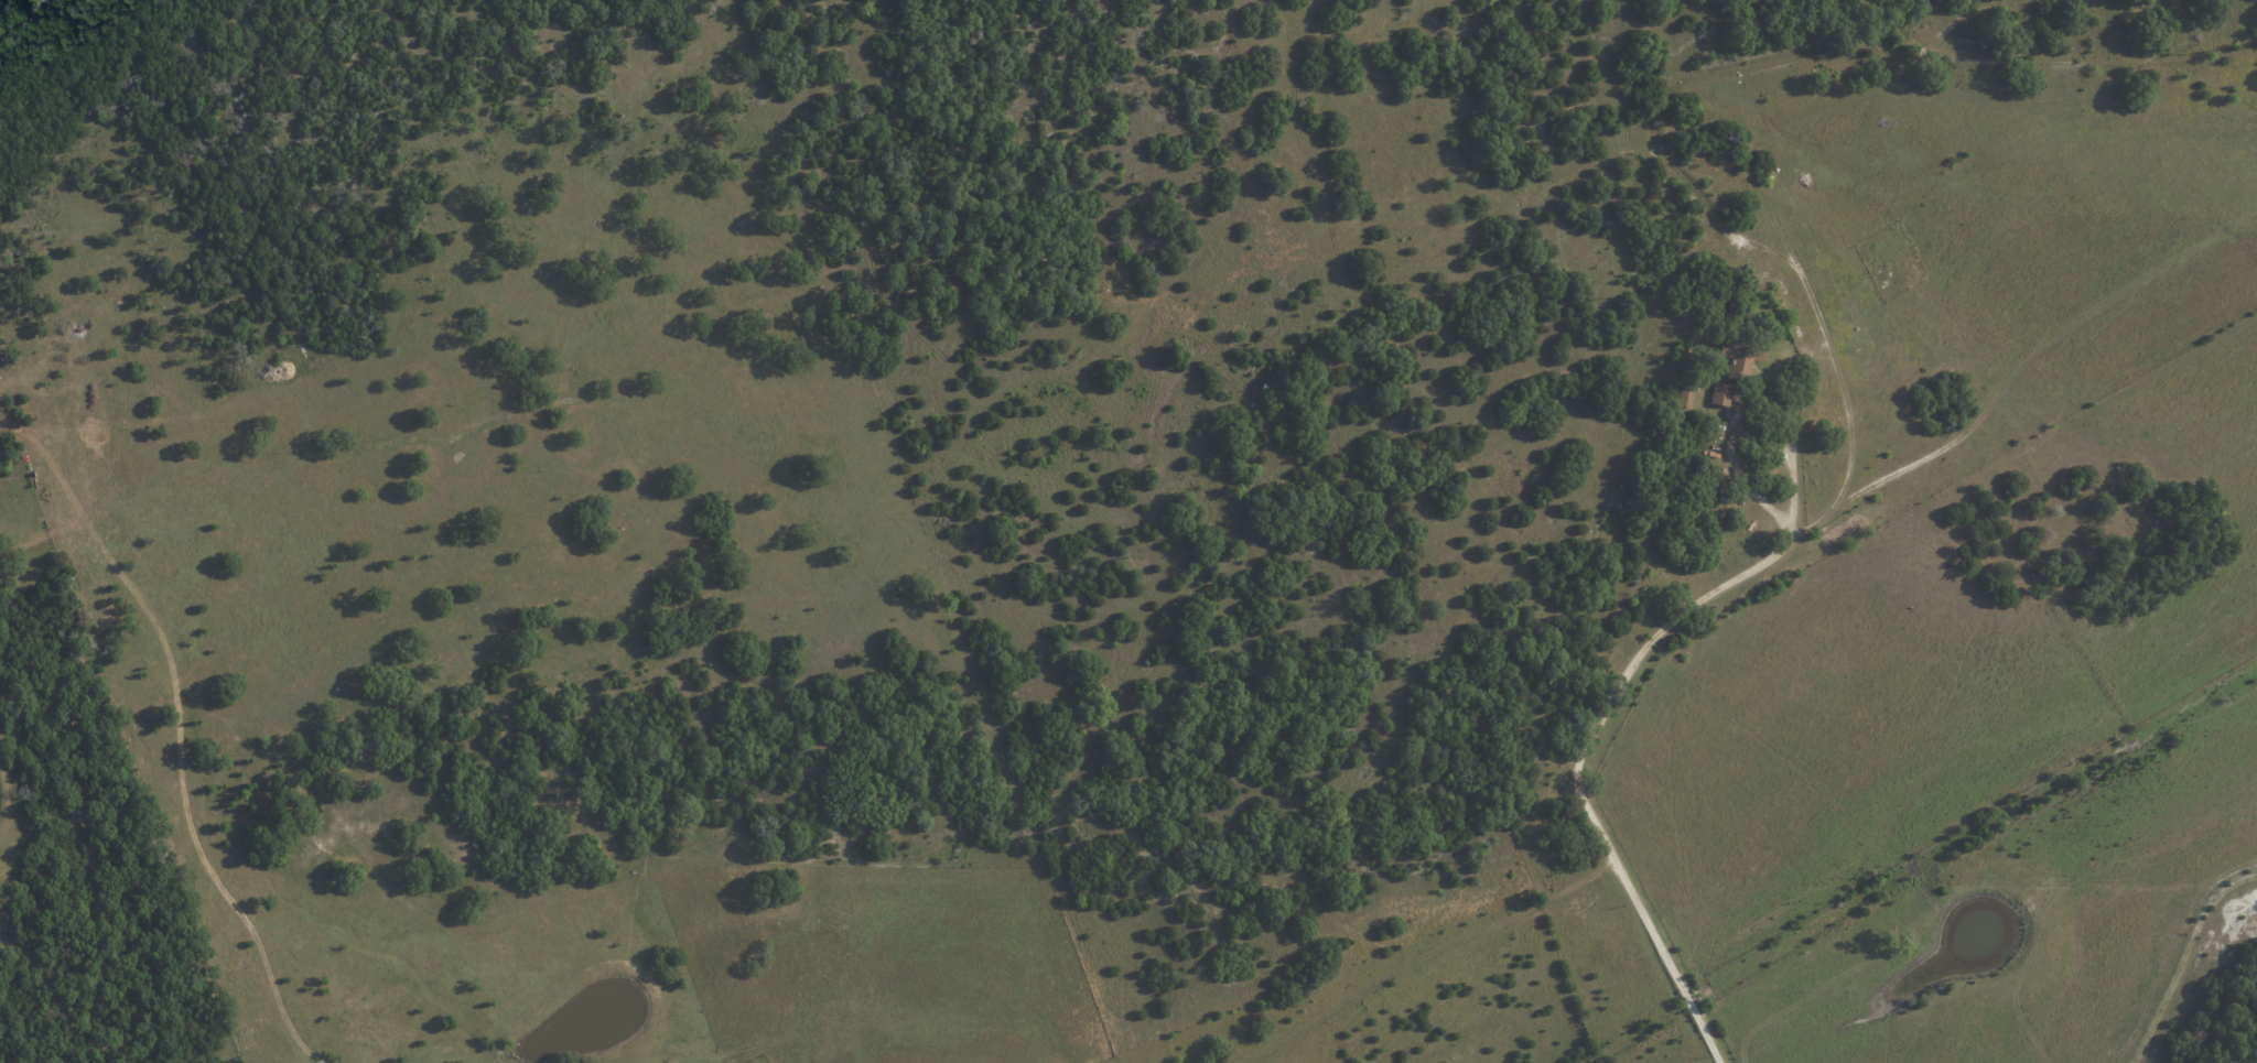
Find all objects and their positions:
building: (1734, 352)
building: (1719, 394)
building: (1683, 399)
road: (1611, 697)

